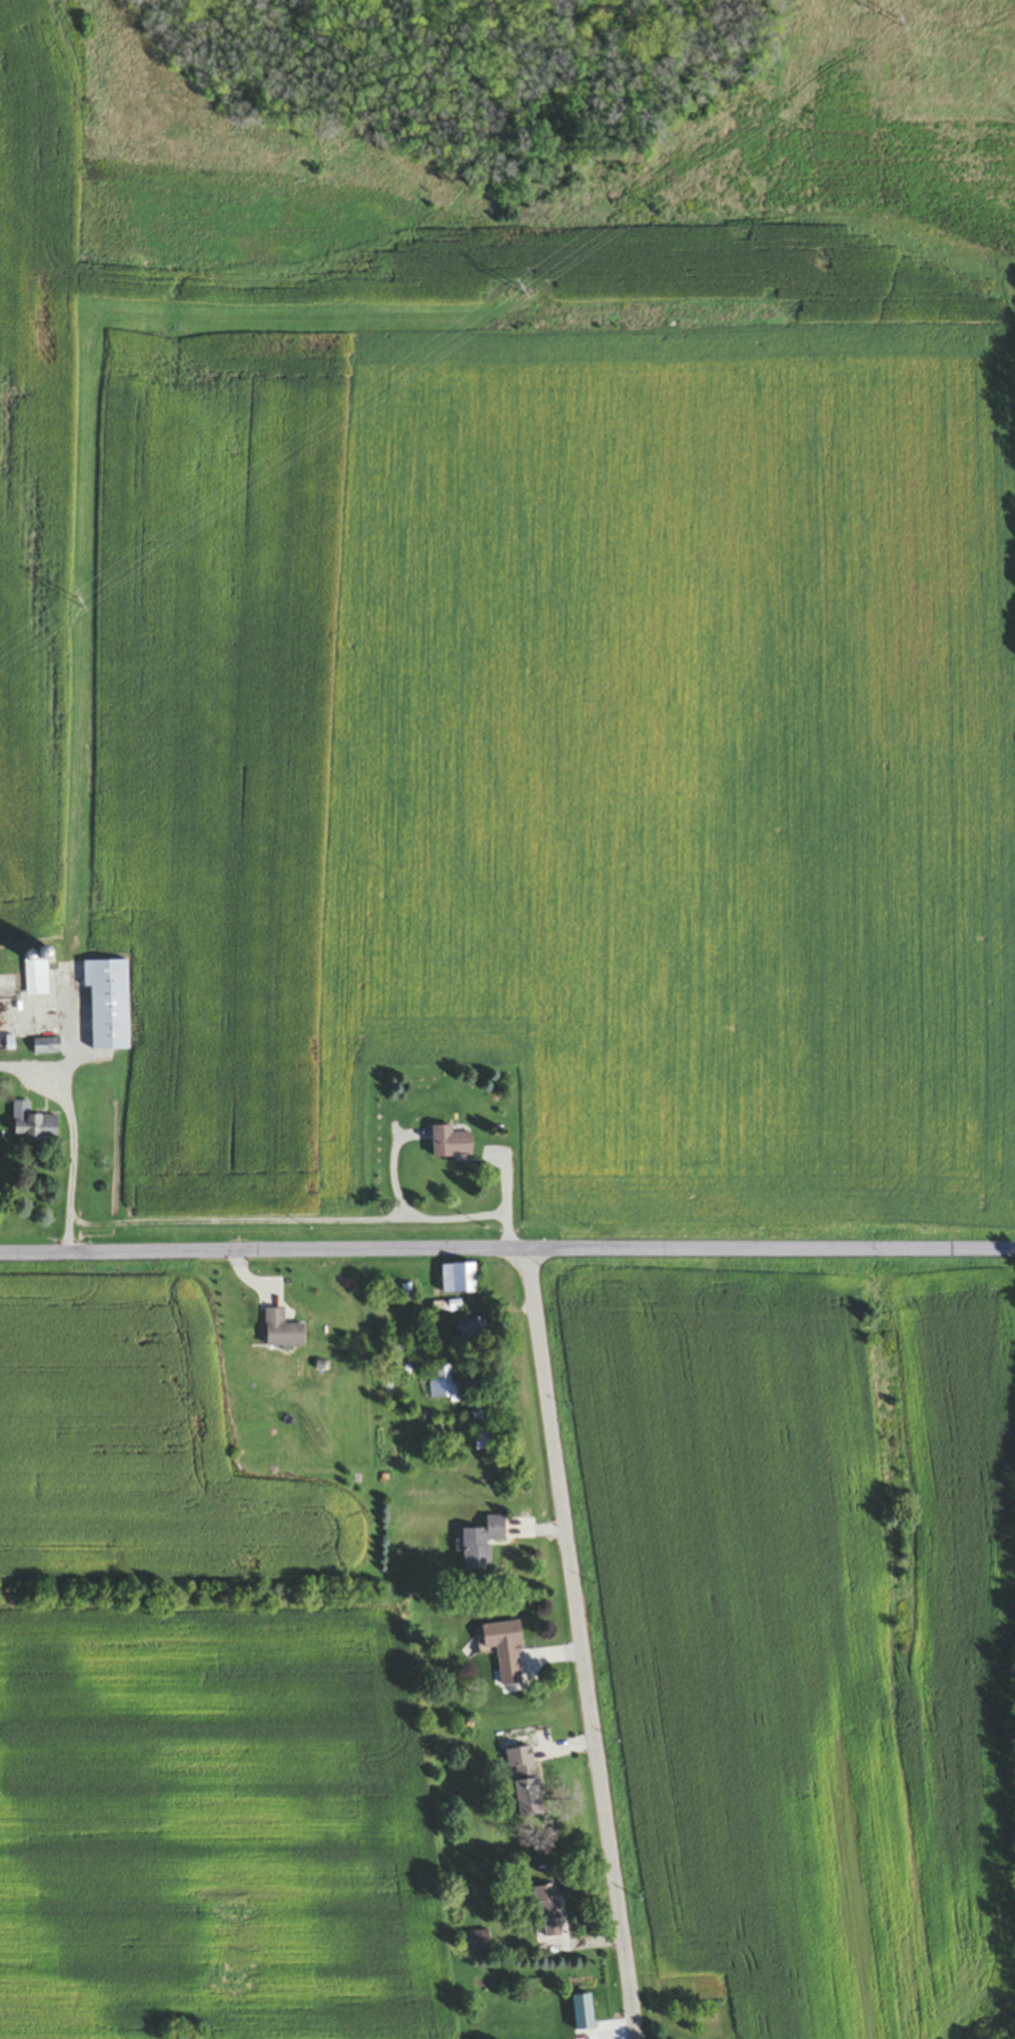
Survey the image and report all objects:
power tower: (904, 19)
power tower: (523, 286)
power tower: (73, 610)
building: (2, 959)
building: (108, 1005)
building: (46, 1049)
building: (33, 1125)
road: (68, 1130)
building: (450, 1144)
road: (507, 1251)
building: (458, 1280)
building: (447, 1308)
building: (470, 1329)
building: (282, 1332)
building: (444, 1386)
building: (482, 1432)
building: (481, 1545)
road: (582, 1644)
building: (508, 1673)
building: (523, 1784)
building: (546, 1914)
building: (479, 1943)

